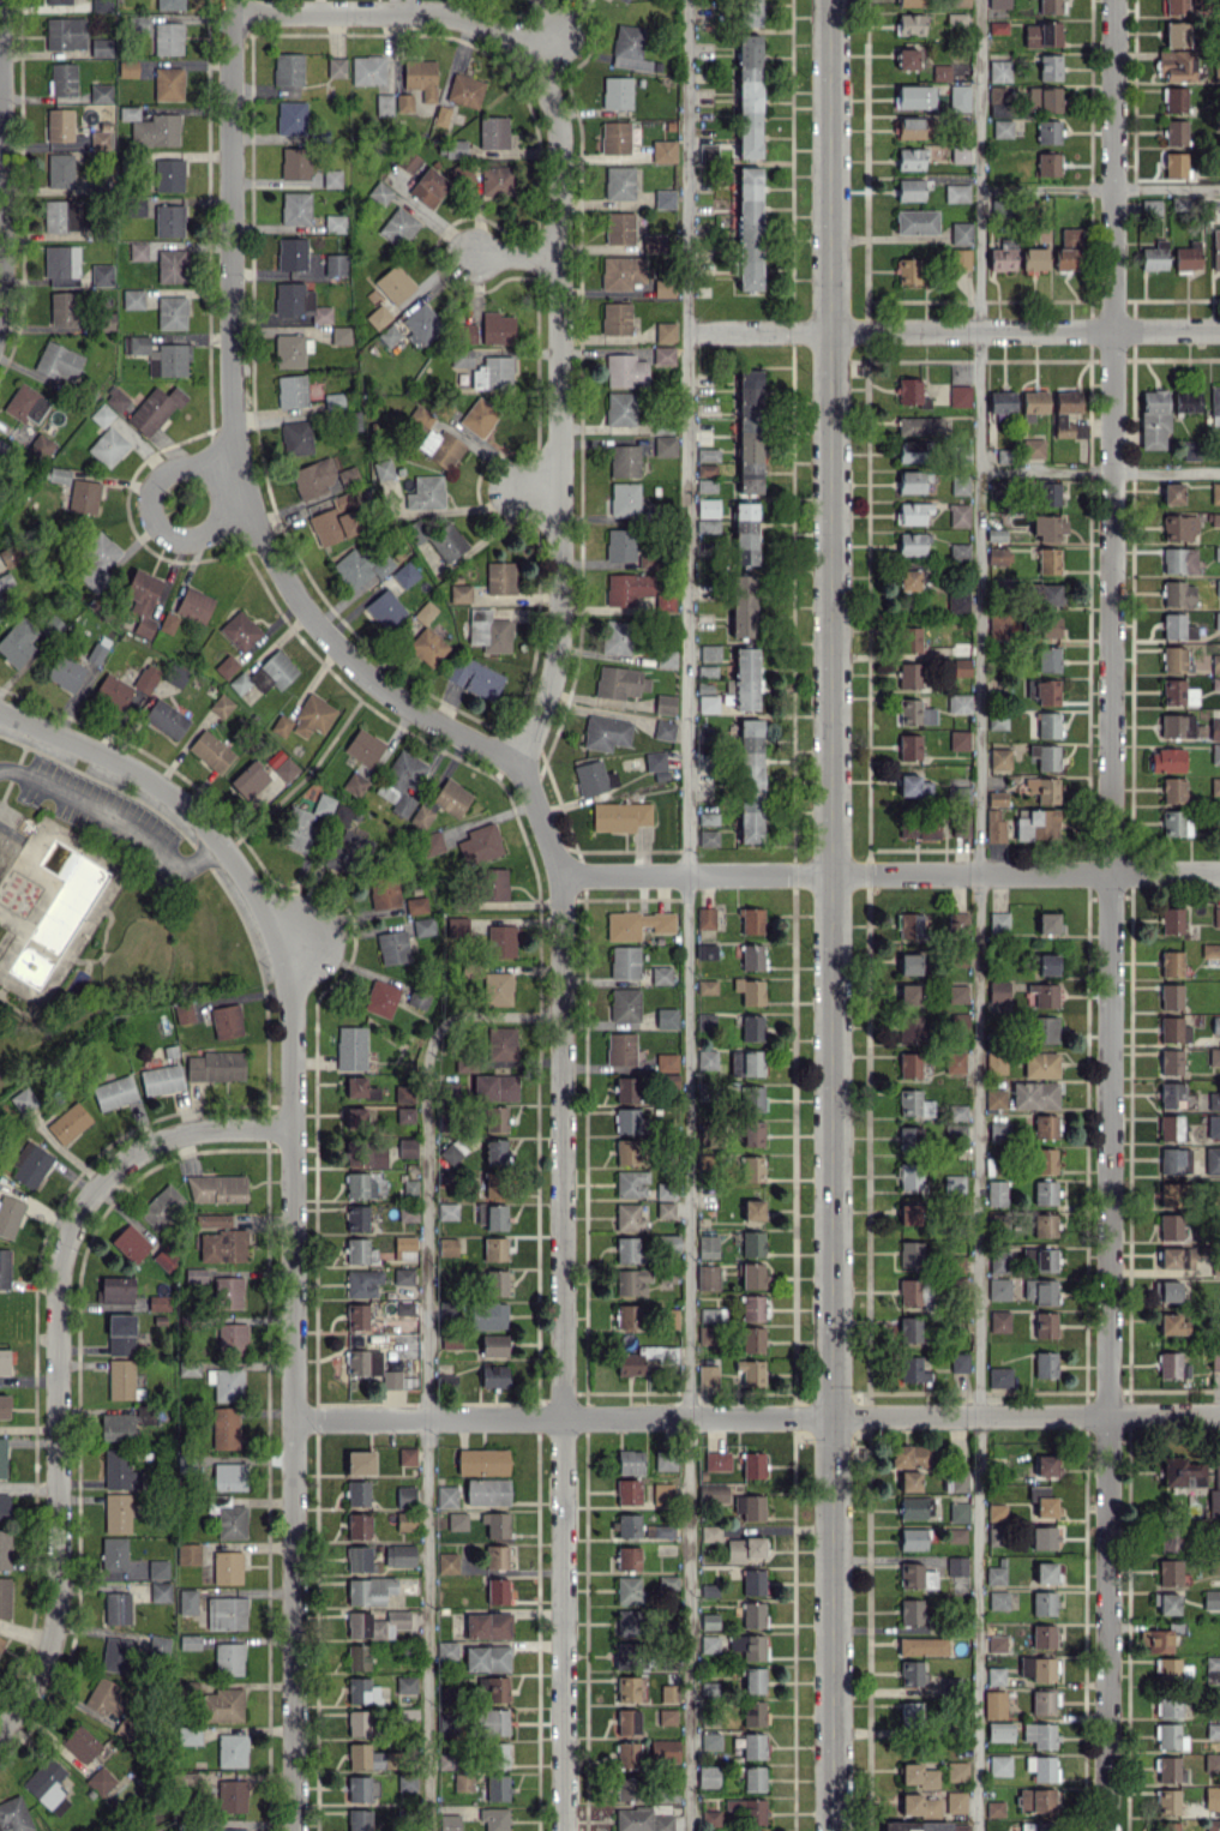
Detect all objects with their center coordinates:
building: (626, 0)
building: (911, 2)
building: (960, 2)
building: (998, 2)
building: (1050, 6)
building: (1176, 6)
building: (747, 12)
building: (911, 24)
building: (997, 26)
building: (1041, 34)
building: (1176, 34)
building: (907, 58)
building: (1176, 64)
building: (1050, 67)
building: (999, 70)
building: (940, 72)
building: (617, 92)
building: (997, 94)
building: (749, 96)
building: (915, 96)
building: (958, 97)
building: (1042, 98)
building: (1174, 100)
building: (909, 127)
building: (1002, 127)
building: (1047, 131)
building: (1174, 132)
building: (618, 137)
building: (708, 150)
building: (663, 151)
building: (960, 152)
road: (5, 156)
building: (909, 158)
building: (1048, 163)
road: (978, 164)
building: (1174, 164)
building: (619, 182)
road: (1098, 187)
building: (909, 188)
building: (956, 192)
building: (665, 198)
road: (232, 208)
building: (1150, 208)
road: (433, 220)
building: (916, 221)
building: (619, 227)
building: (749, 228)
building: (961, 232)
building: (653, 242)
building: (1068, 248)
building: (1215, 248)
road: (516, 253)
building: (1154, 256)
building: (1188, 256)
building: (1002, 257)
building: (958, 258)
building: (1033, 258)
building: (908, 270)
building: (621, 271)
building: (663, 289)
building: (615, 318)
road: (952, 330)
building: (665, 331)
building: (663, 354)
building: (625, 371)
building: (912, 392)
building: (960, 395)
building: (1002, 401)
building: (1186, 401)
building: (1032, 404)
building: (1215, 404)
building: (620, 408)
building: (1059, 418)
building: (1153, 418)
building: (919, 425)
building: (749, 431)
building: (665, 445)
building: (1034, 448)
building: (1191, 449)
building: (911, 450)
building: (707, 454)
building: (624, 460)
building: (705, 469)
road: (1098, 470)
building: (911, 481)
building: (958, 485)
building: (994, 490)
building: (1215, 492)
building: (1046, 493)
building: (1172, 493)
building: (624, 498)
road: (148, 506)
building: (707, 506)
building: (913, 511)
building: (958, 515)
building: (1215, 518)
building: (708, 526)
building: (1048, 527)
building: (1179, 527)
building: (745, 533)
building: (620, 544)
building: (911, 544)
building: (958, 550)
building: (998, 556)
building: (1048, 560)
building: (1178, 560)
building: (648, 562)
building: (908, 580)
building: (1218, 587)
building: (626, 588)
building: (1178, 593)
building: (1048, 594)
building: (957, 600)
building: (741, 605)
building: (998, 624)
building: (1048, 626)
building: (1177, 626)
road: (323, 629)
building: (615, 637)
building: (909, 638)
building: (709, 653)
building: (666, 658)
building: (1173, 658)
building: (1047, 659)
building: (1215, 662)
building: (957, 666)
building: (707, 671)
building: (909, 674)
building: (744, 679)
building: (619, 682)
building: (1215, 683)
building: (1046, 691)
building: (1178, 692)
building: (707, 703)
building: (960, 703)
building: (665, 704)
building: (915, 712)
building: (1048, 724)
building: (1177, 725)
building: (1214, 728)
building: (663, 730)
building: (605, 732)
building: (958, 739)
building: (909, 746)
building: (1215, 752)
building: (1045, 756)
building: (999, 758)
building: (1167, 760)
building: (593, 778)
building: (749, 780)
road: (525, 784)
building: (913, 785)
building: (1215, 785)
building: (1042, 788)
building: (1172, 790)
building: (996, 798)
road: (120, 815)
parking lot: (109, 816)
building: (619, 816)
road: (14, 817)
building: (1036, 823)
building: (1172, 823)
building: (960, 824)
building: (918, 826)
building: (994, 826)
building: (708, 838)
building: (6, 850)
road: (890, 871)
park: (103, 904)
road: (44, 908)
road: (687, 916)
road: (831, 916)
road: (1110, 916)
building: (705, 917)
building: (1216, 917)
building: (1172, 919)
building: (751, 920)
building: (957, 920)
building: (998, 923)
building: (1047, 923)
building: (637, 924)
building: (909, 925)
building: (1210, 950)
building: (707, 951)
building: (751, 956)
building: (624, 961)
building: (909, 963)
building: (1047, 963)
building: (1171, 963)
building: (660, 974)
building: (707, 986)
building: (750, 990)
building: (998, 991)
building: (909, 993)
building: (957, 993)
building: (1041, 995)
building: (1171, 996)
building: (624, 1004)
building: (666, 1017)
building: (705, 1021)
building: (1215, 1023)
building: (751, 1027)
building: (911, 1028)
building: (1044, 1028)
building: (1173, 1029)
building: (620, 1047)
building: (1214, 1056)
building: (707, 1058)
building: (1171, 1061)
building: (665, 1062)
building: (954, 1062)
building: (746, 1063)
building: (909, 1064)
building: (1040, 1064)
road: (975, 1080)
building: (625, 1088)
building: (1034, 1094)
building: (1170, 1094)
building: (752, 1098)
building: (994, 1098)
building: (1214, 1100)
building: (913, 1103)
building: (626, 1119)
building: (956, 1122)
building: (1045, 1125)
building: (1213, 1125)
building: (1170, 1127)
building: (998, 1131)
building: (752, 1133)
building: (909, 1137)
building: (626, 1152)
building: (1213, 1152)
building: (1045, 1160)
building: (1174, 1160)
building: (751, 1167)
building: (909, 1175)
building: (631, 1183)
building: (954, 1183)
building: (663, 1190)
building: (1045, 1191)
building: (994, 1193)
building: (1168, 1194)
road: (292, 1199)
building: (665, 1208)
building: (752, 1209)
building: (908, 1213)
building: (629, 1217)
building: (1045, 1225)
building: (1170, 1225)
building: (669, 1242)
building: (752, 1243)
building: (707, 1245)
building: (627, 1249)
building: (909, 1254)
building: (1041, 1256)
building: (1176, 1257)
building: (999, 1261)
building: (751, 1275)
building: (707, 1277)
building: (631, 1280)
building: (999, 1287)
building: (1040, 1291)
building: (1168, 1291)
building: (914, 1292)
building: (751, 1307)
building: (710, 1314)
building: (627, 1317)
building: (671, 1317)
building: (998, 1320)
building: (1045, 1323)
building: (1173, 1323)
building: (912, 1328)
building: (707, 1334)
building: (752, 1339)
road: (56, 1355)
building: (629, 1361)
building: (1215, 1361)
building: (958, 1362)
road: (427, 1363)
building: (1045, 1363)
building: (1172, 1365)
building: (913, 1369)
building: (751, 1371)
building: (708, 1374)
building: (999, 1376)
road: (757, 1415)
traffic signals: (834, 1415)
building: (911, 1455)
building: (716, 1460)
building: (629, 1461)
building: (665, 1461)
building: (752, 1464)
building: (1045, 1464)
building: (1182, 1472)
building: (909, 1481)
building: (957, 1481)
building: (627, 1491)
building: (662, 1493)
building: (713, 1493)
building: (1214, 1493)
building: (1042, 1501)
building: (750, 1506)
building: (912, 1507)
building: (958, 1511)
building: (996, 1512)
building: (627, 1525)
building: (661, 1531)
building: (710, 1532)
building: (955, 1535)
building: (994, 1536)
building: (1044, 1537)
building: (913, 1538)
building: (1168, 1539)
building: (744, 1548)
building: (627, 1559)
building: (1216, 1562)
building: (956, 1566)
building: (1168, 1571)
building: (1045, 1572)
building: (994, 1574)
building: (915, 1575)
building: (667, 1581)
building: (752, 1581)
building: (629, 1590)
building: (1210, 1598)
building: (997, 1599)
building: (1044, 1603)
building: (1166, 1603)
building: (911, 1611)
building: (753, 1614)
building: (707, 1620)
building: (629, 1622)
building: (1042, 1635)
building: (1158, 1640)
building: (708, 1643)
building: (997, 1643)
building: (749, 1645)
building: (921, 1645)
building: (627, 1655)
building: (1212, 1662)
building: (1038, 1668)
building: (1167, 1670)
building: (911, 1673)
building: (994, 1675)
building: (753, 1680)
building: (625, 1688)
building: (1044, 1701)
building: (993, 1704)
building: (1168, 1706)
building: (753, 1712)
building: (911, 1712)
building: (666, 1716)
building: (627, 1721)
building: (1213, 1730)
building: (999, 1731)
building: (1040, 1734)
building: (1170, 1736)
building: (710, 1741)
building: (753, 1746)
building: (663, 1749)
building: (627, 1754)
building: (1212, 1761)
building: (999, 1765)
building: (1041, 1767)
building: (957, 1769)
building: (1170, 1769)
building: (916, 1775)
building: (708, 1776)
building: (753, 1778)
building: (626, 1788)
building: (1212, 1797)
building: (955, 1800)
building: (1036, 1800)
building: (1168, 1801)
building: (919, 1803)
building: (994, 1808)
building: (747, 1809)
building: (709, 1817)
building: (641, 1820)
building: (1213, 1825)
building: (926, 1826)
building: (1033, 1826)
building: (1167, 1826)
building: (1003, 1830)

